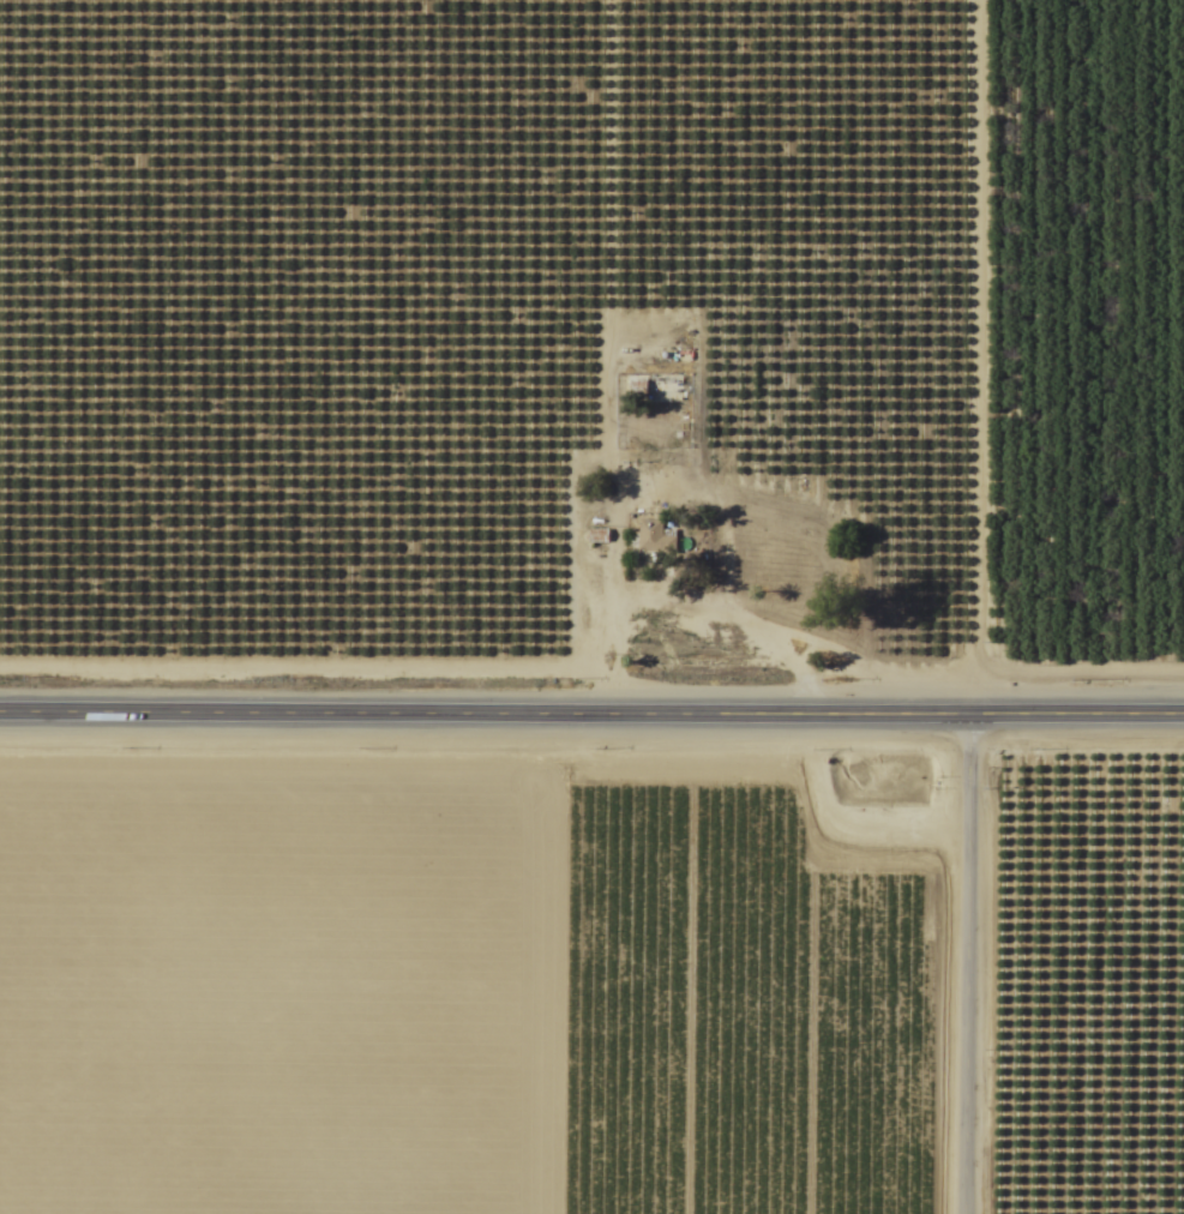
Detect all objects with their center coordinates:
building: (645, 385)
building: (651, 537)
road: (969, 607)
road: (591, 713)
crop: (590, 981)

